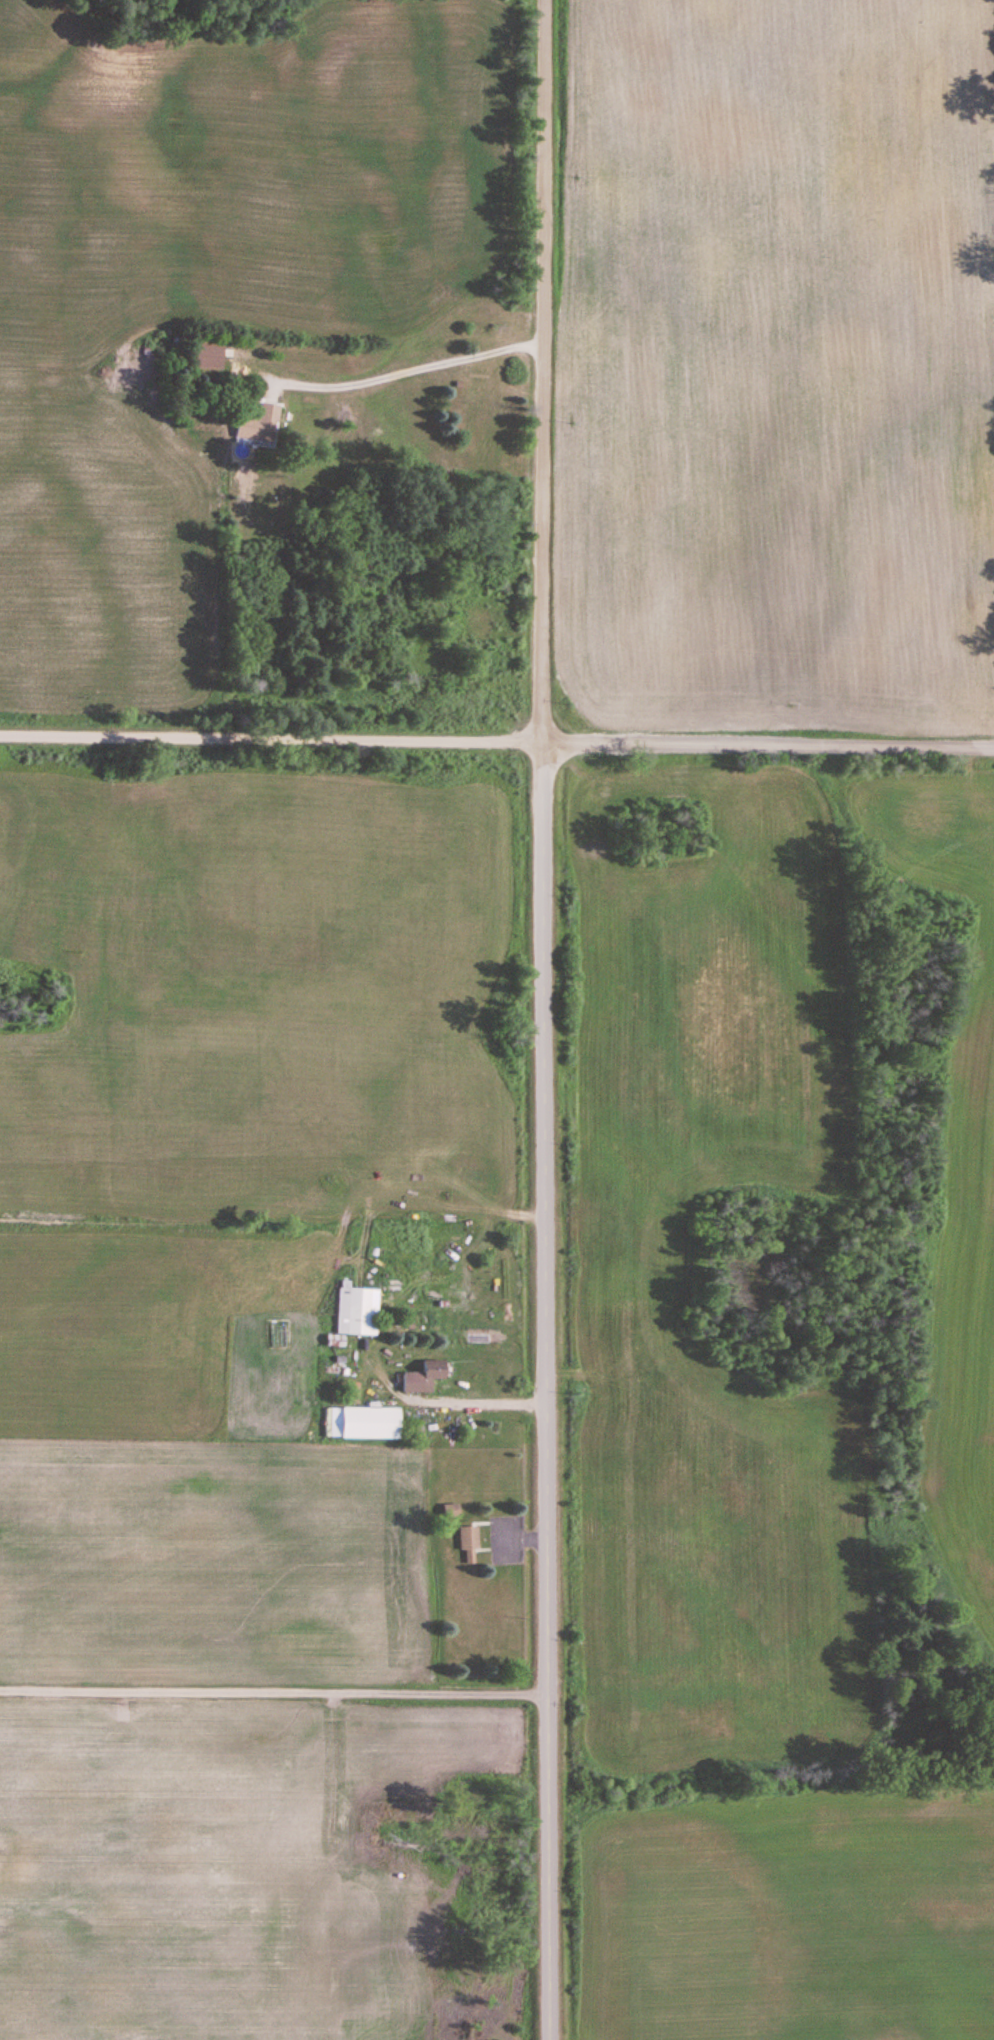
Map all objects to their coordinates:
building: (207, 356)
road: (412, 370)
road: (547, 371)
building: (258, 424)
road: (276, 738)
road: (773, 742)
building: (356, 1312)
building: (422, 1378)
road: (546, 1391)
building: (368, 1424)
building: (450, 1510)
building: (468, 1538)
road: (124, 1669)

